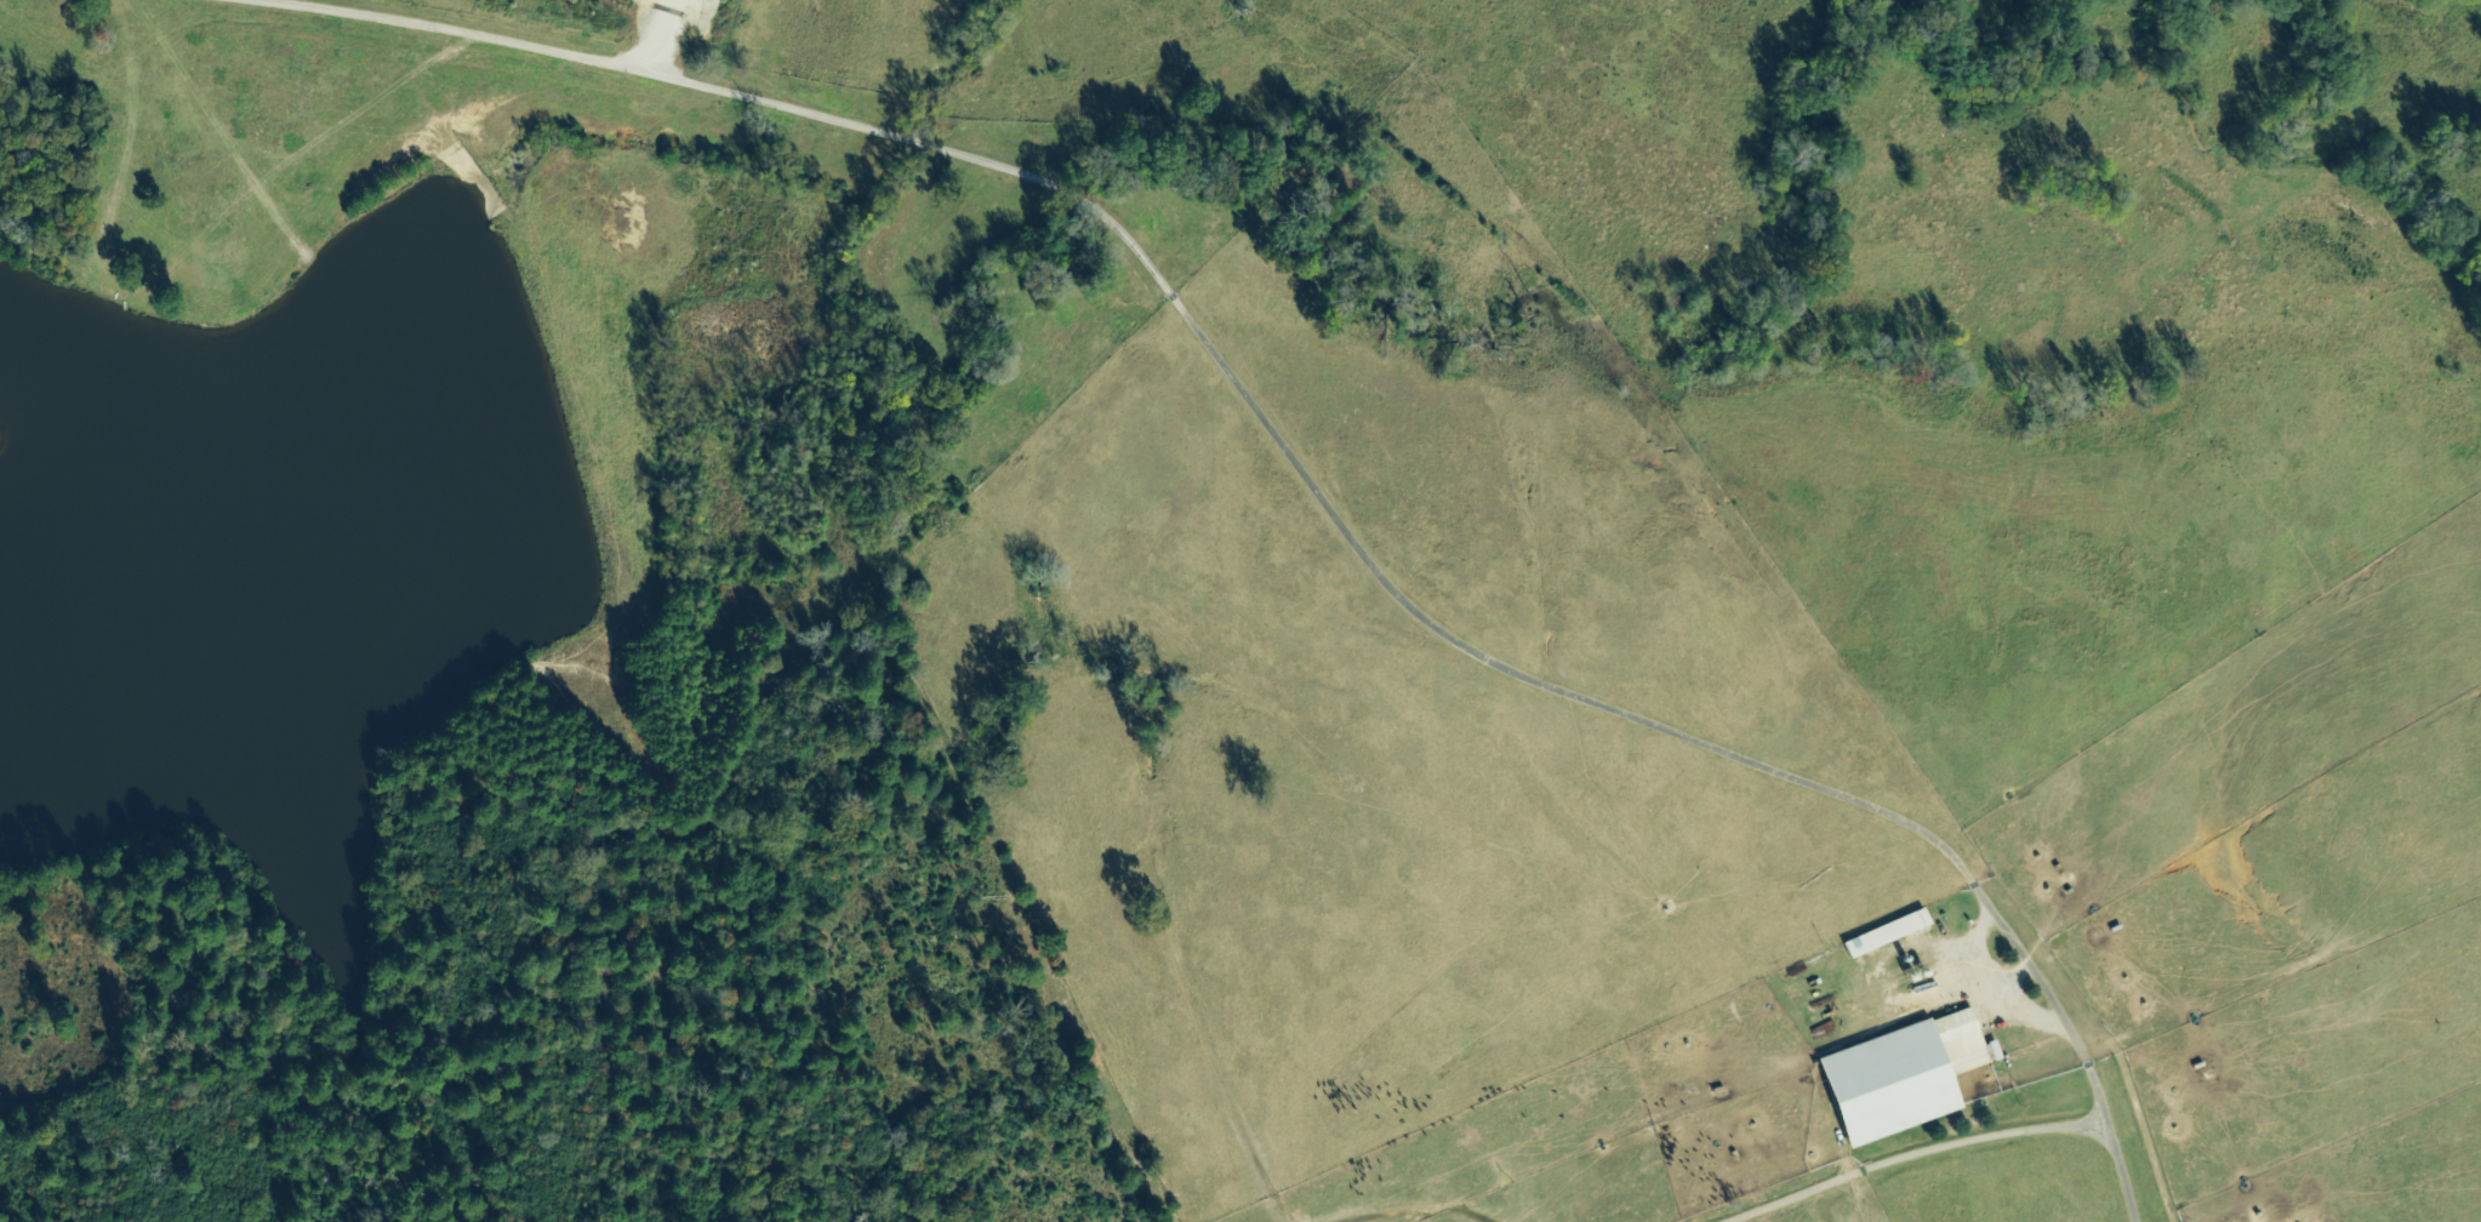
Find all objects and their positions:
road: (472, 32)
road: (1438, 634)
building: (1888, 935)
building: (1906, 1078)

